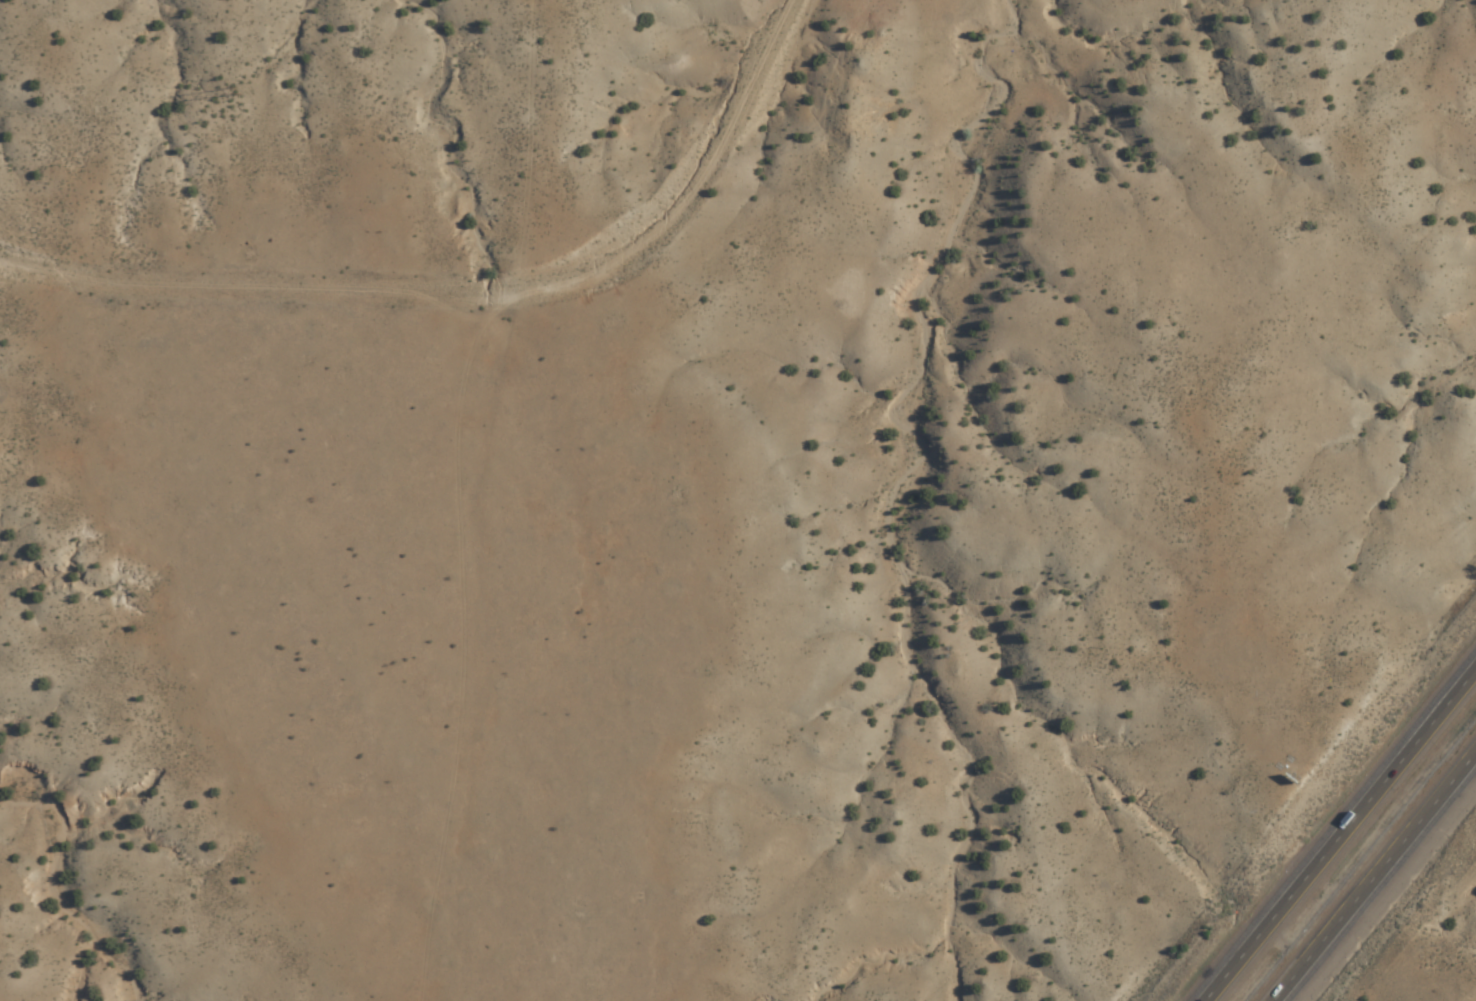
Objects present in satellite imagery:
road: (1343, 842)
road: (1380, 884)

